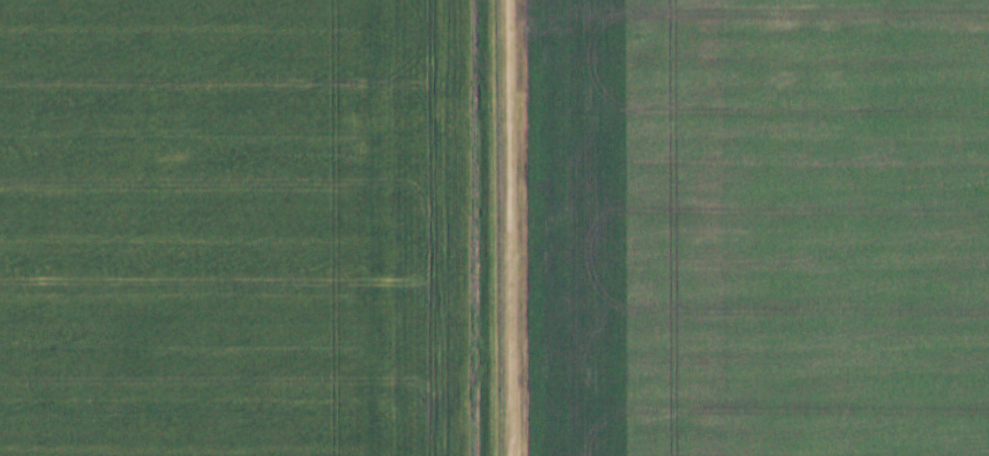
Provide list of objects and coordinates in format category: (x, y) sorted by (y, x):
road: (501, 227)
crop: (762, 227)
crop: (234, 228)

